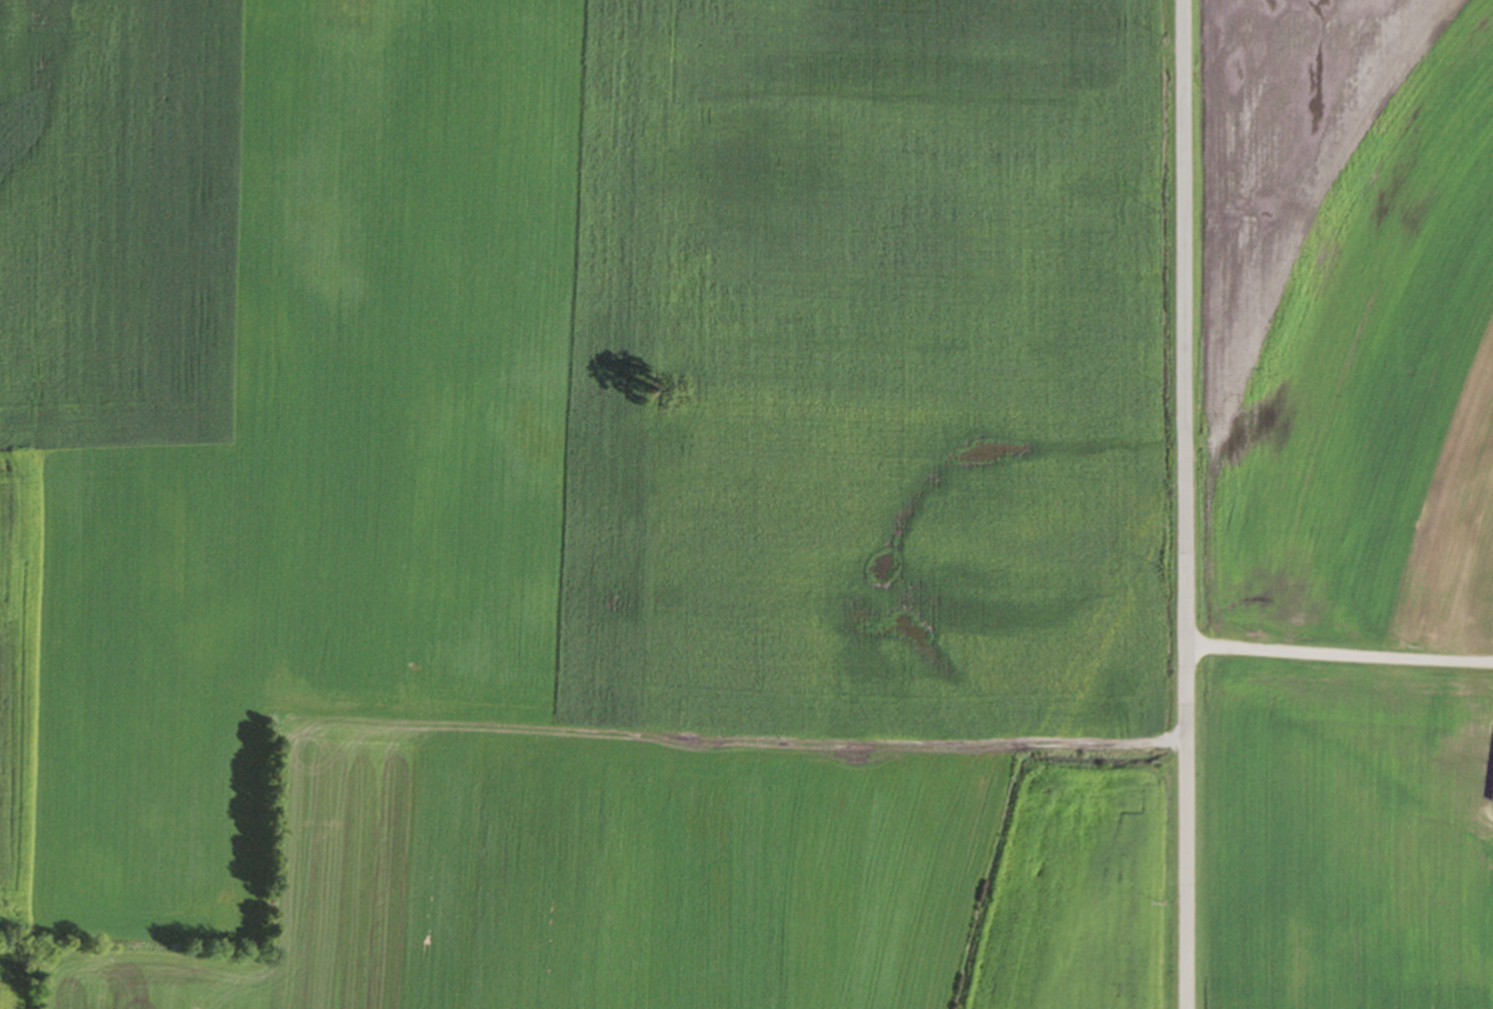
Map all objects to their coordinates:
road: (1186, 504)
road: (1339, 653)

